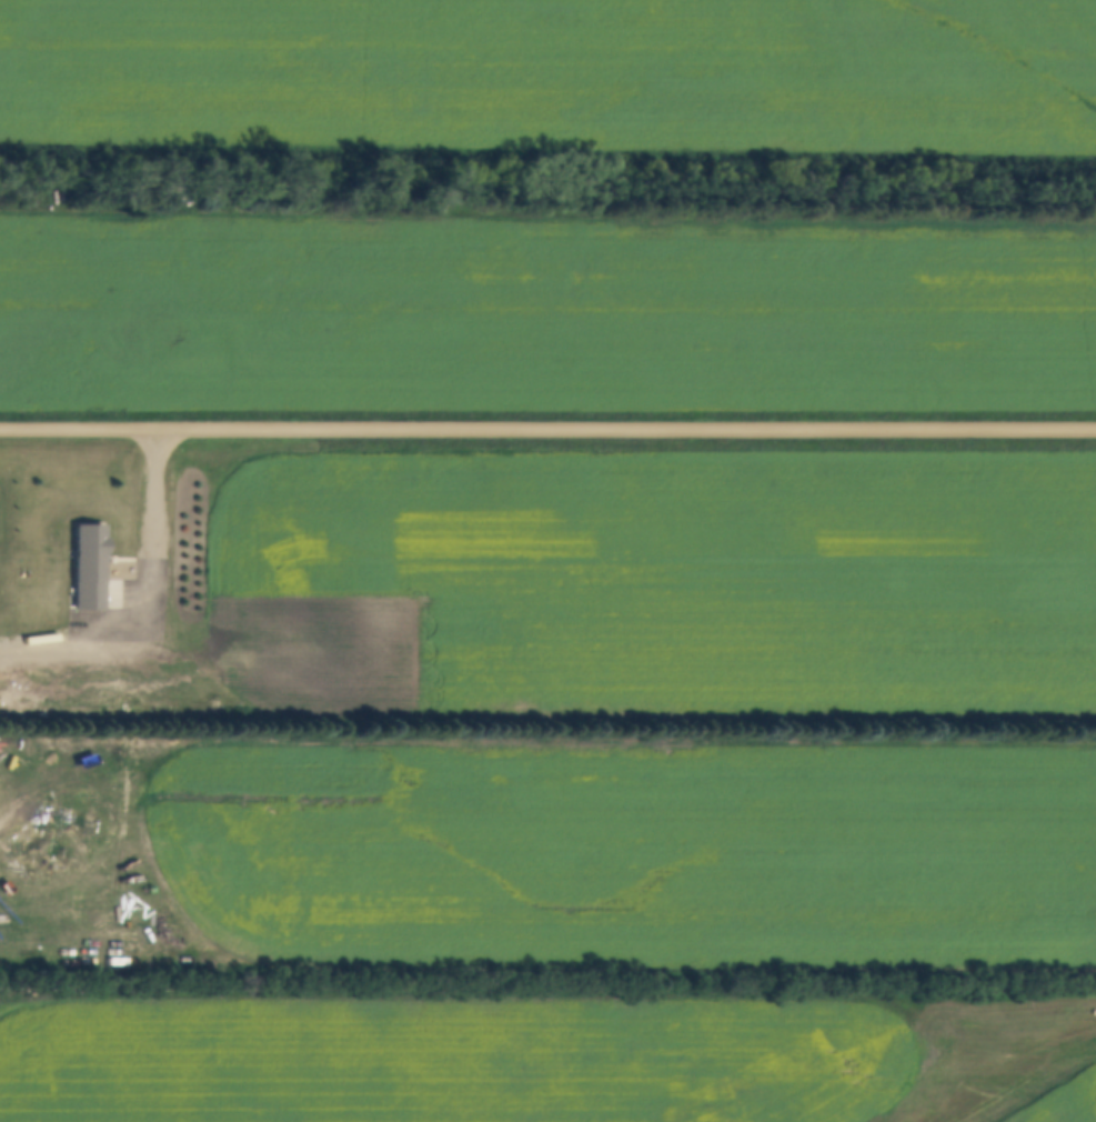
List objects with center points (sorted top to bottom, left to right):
road: (547, 433)
building: (86, 568)

